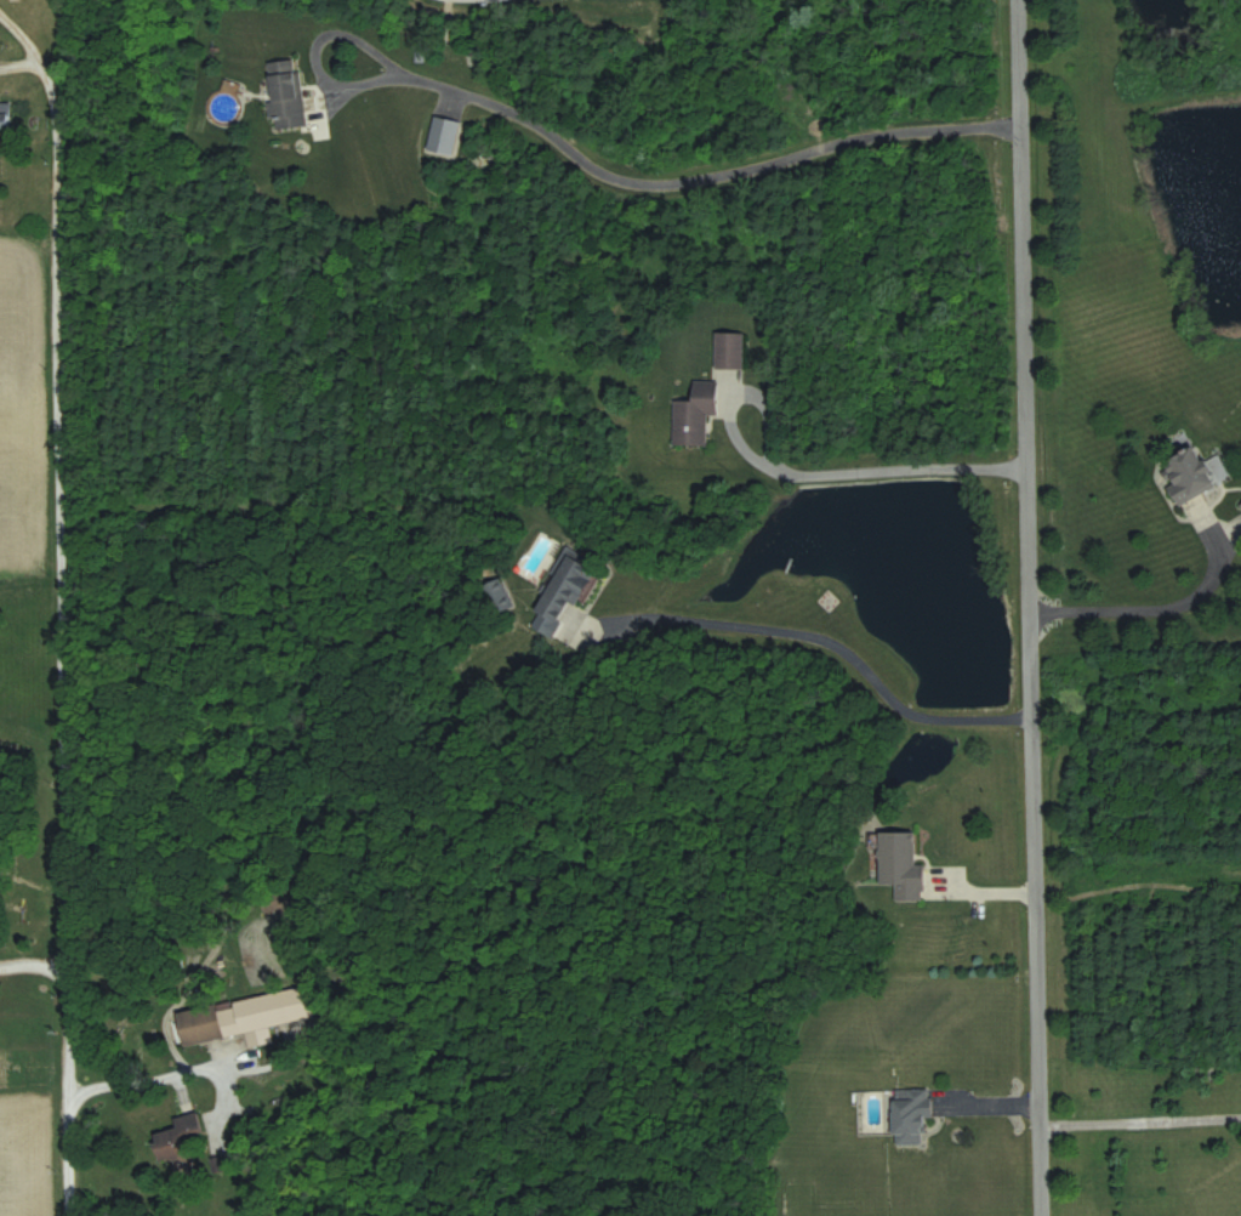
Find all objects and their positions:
building: (285, 93)
building: (4, 117)
building: (443, 135)
road: (683, 183)
building: (729, 353)
building: (695, 414)
road: (848, 461)
building: (1186, 476)
building: (1240, 505)
building: (567, 573)
road: (58, 600)
road: (1166, 602)
road: (1030, 607)
road: (816, 627)
building: (901, 864)
building: (280, 899)
road: (33, 966)
building: (239, 1022)
road: (161, 1073)
building: (910, 1115)
road: (1140, 1115)
building: (181, 1138)

